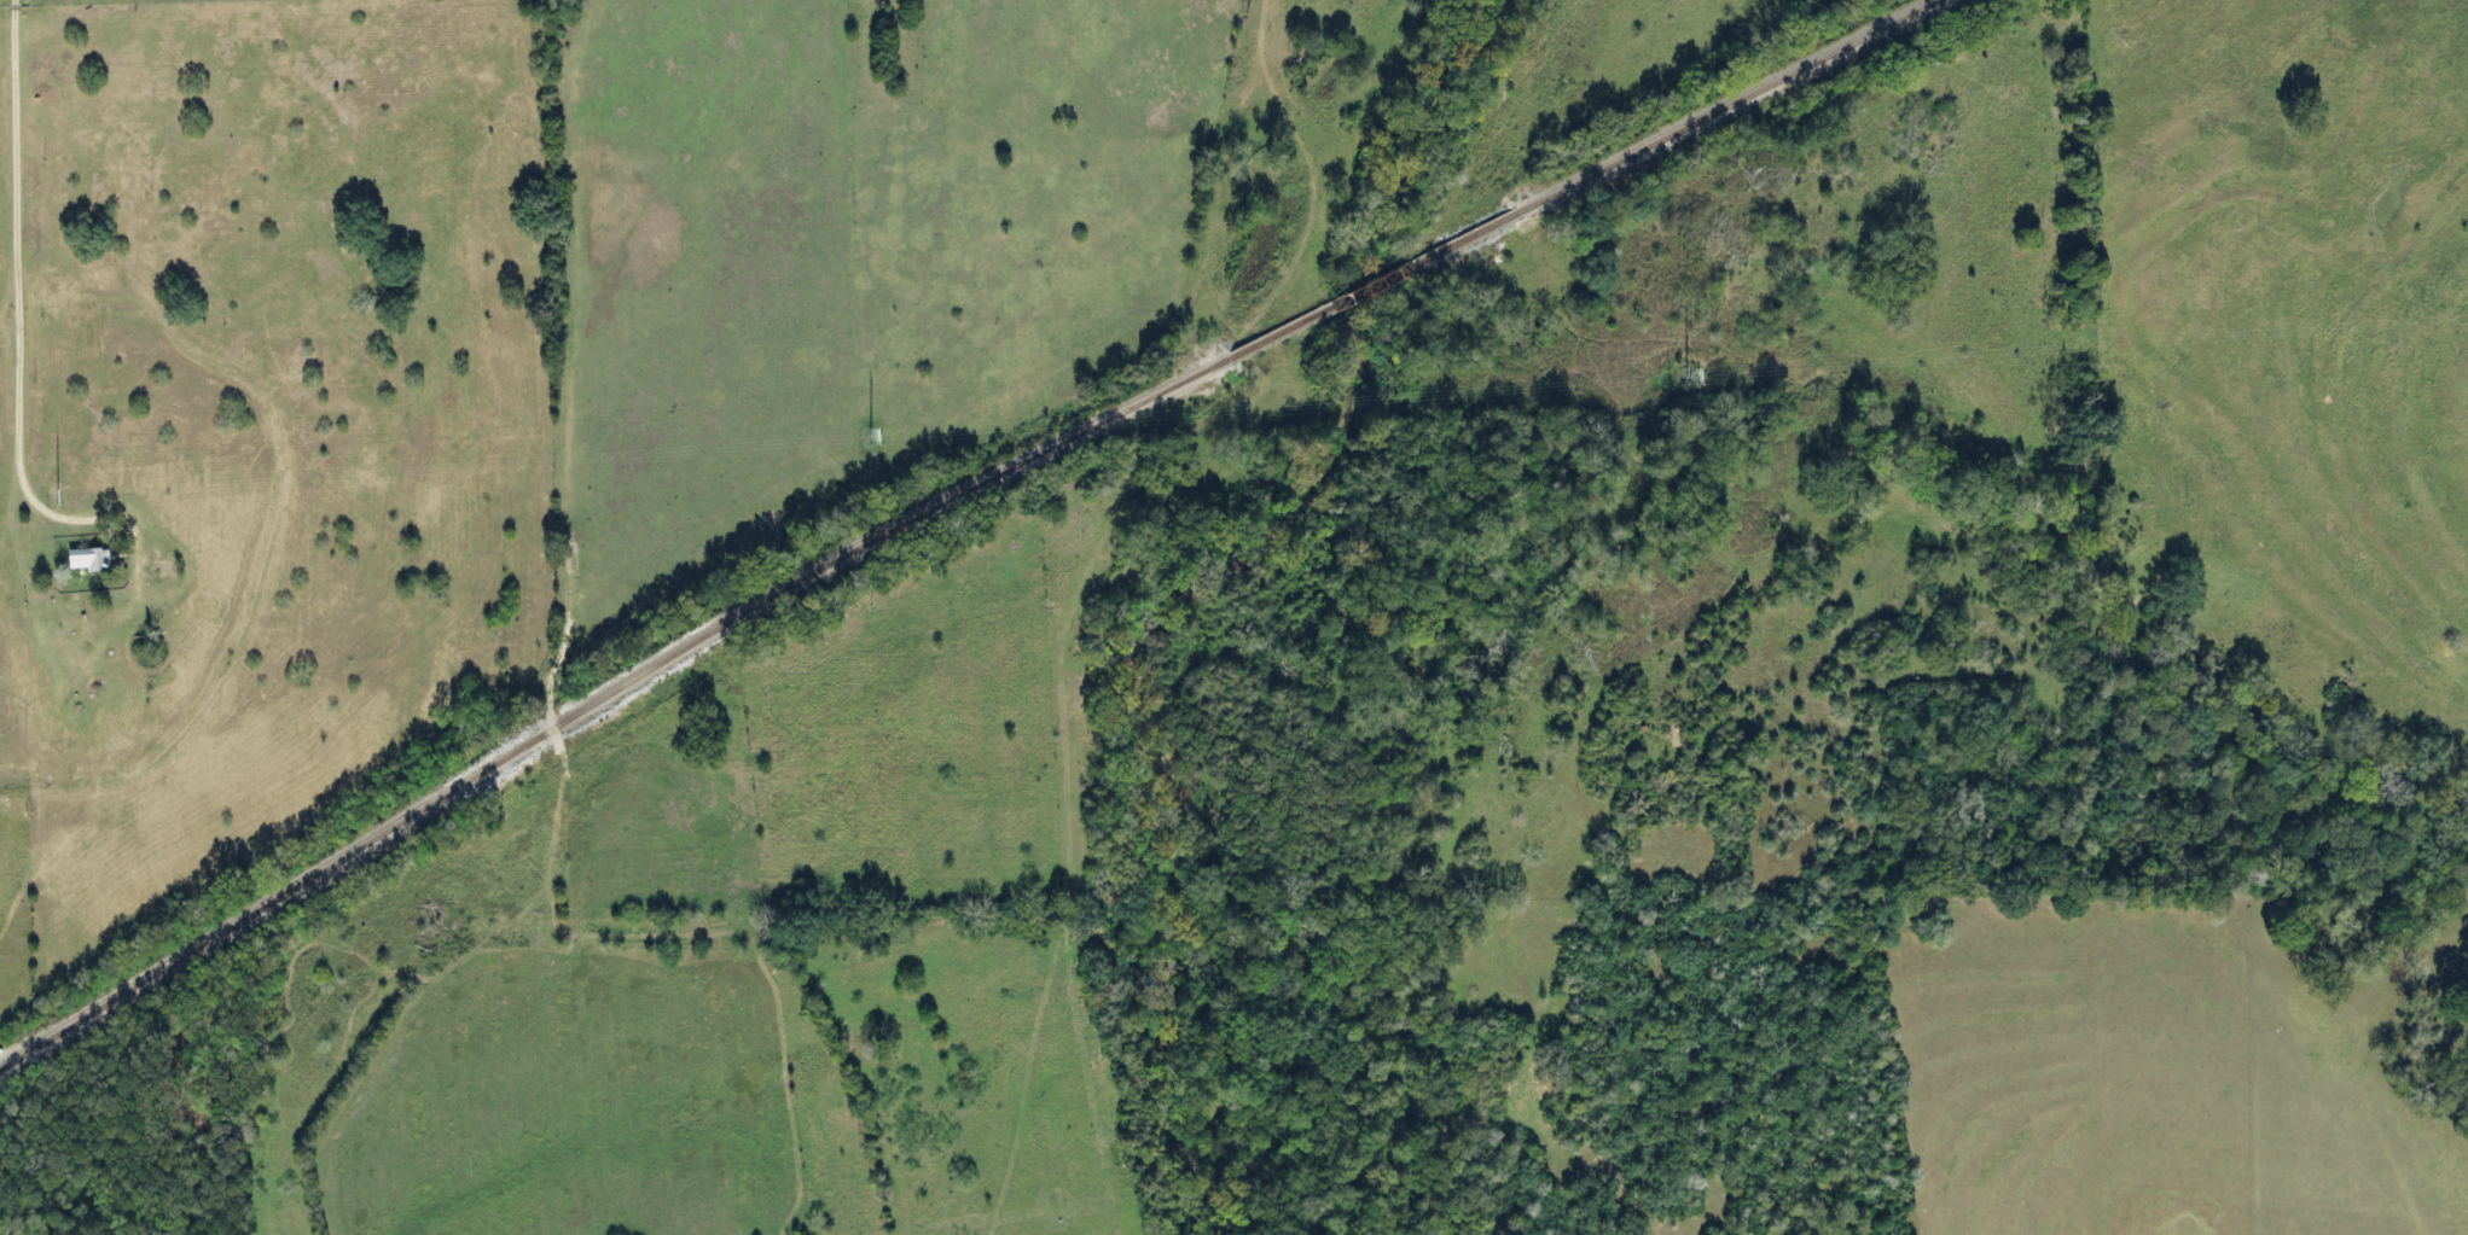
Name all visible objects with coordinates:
railway: (1735, 101)
road: (17, 268)
railway: (1371, 286)
power tower: (1684, 374)
power tower: (879, 433)
power tower: (57, 497)
building: (88, 559)
road: (547, 692)
railway: (593, 701)
road: (2377, 1071)

